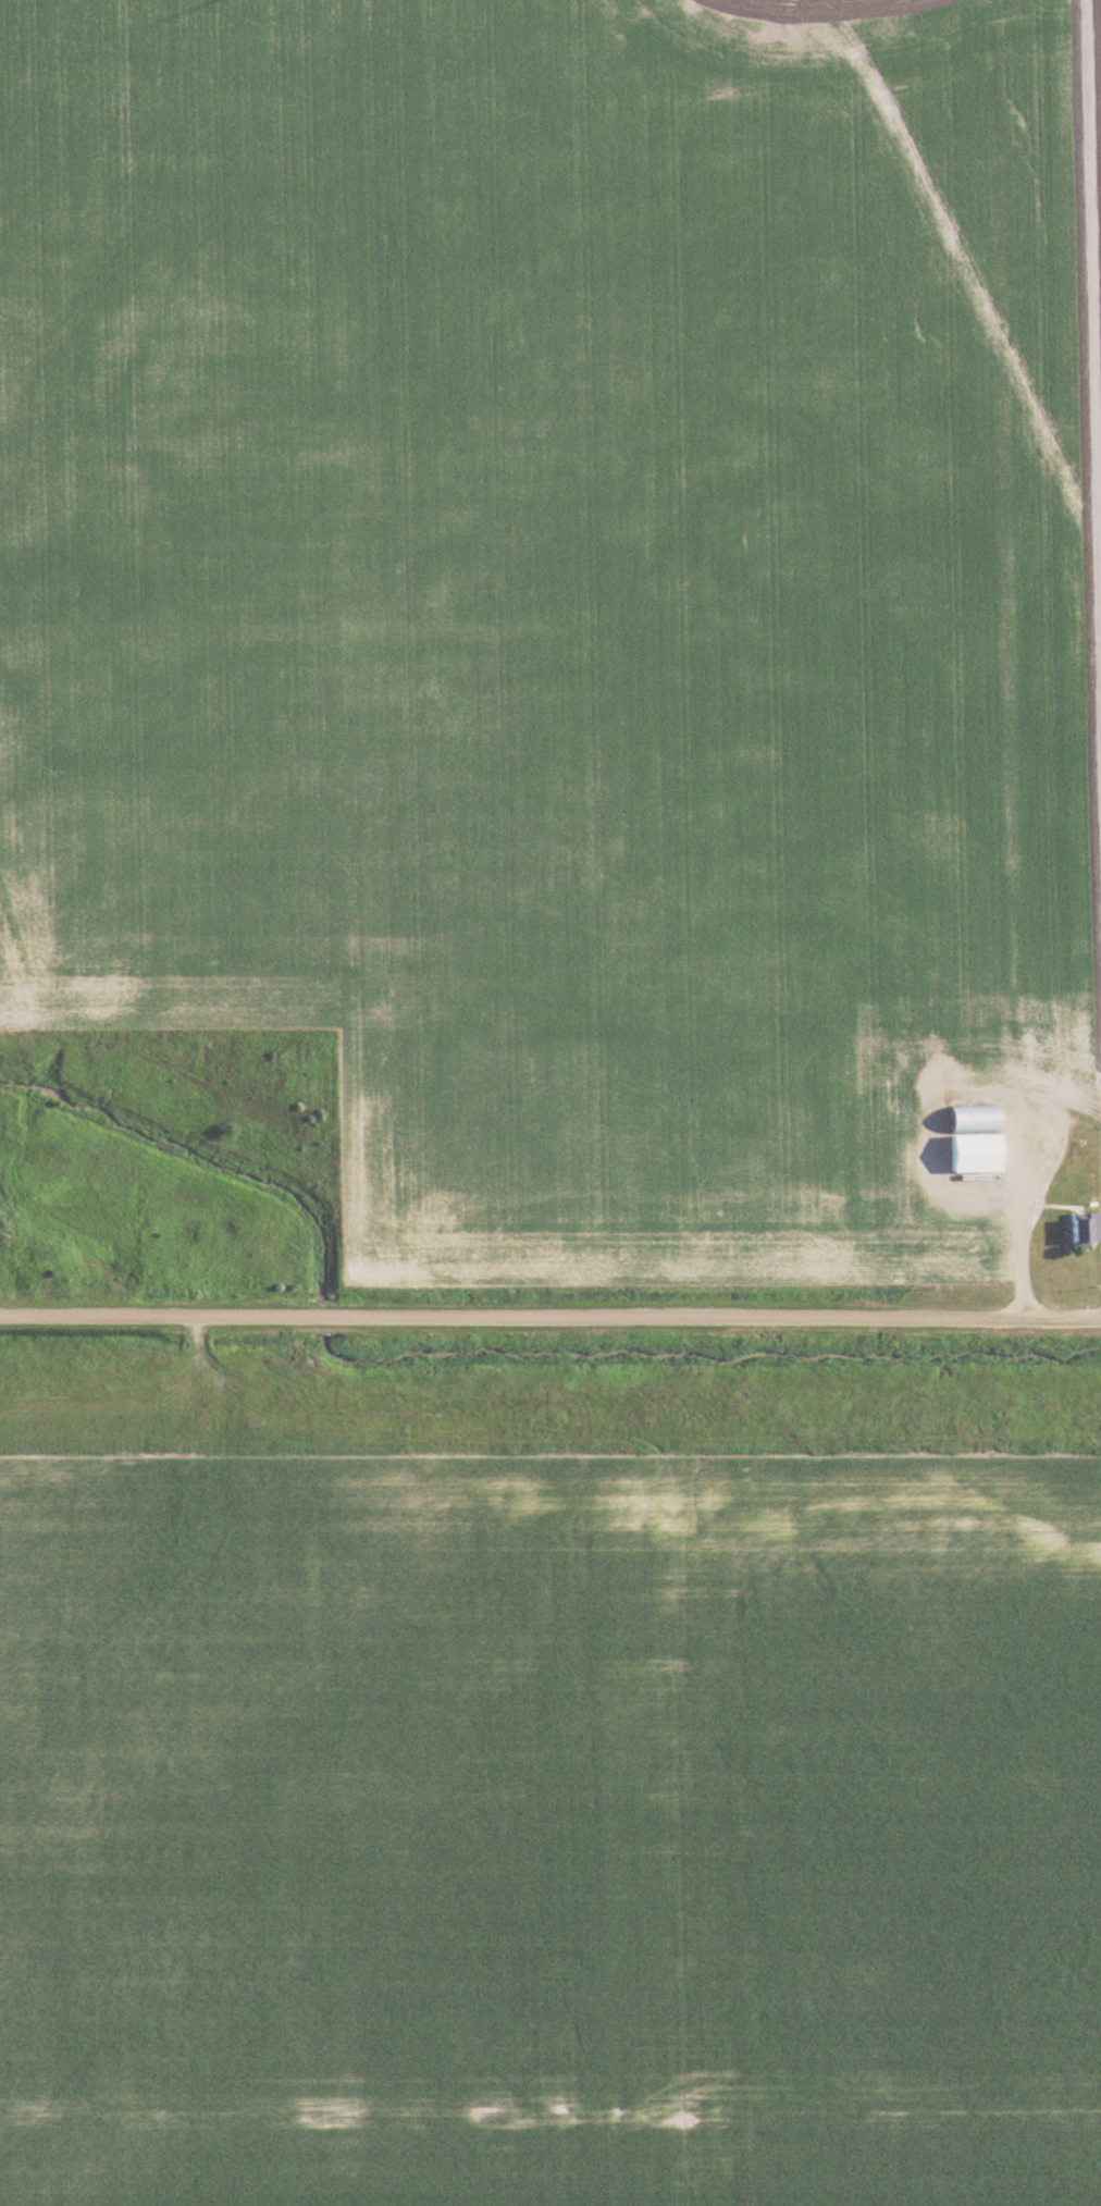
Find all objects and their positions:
building: (967, 1139)
building: (1077, 1230)
road: (549, 1317)

